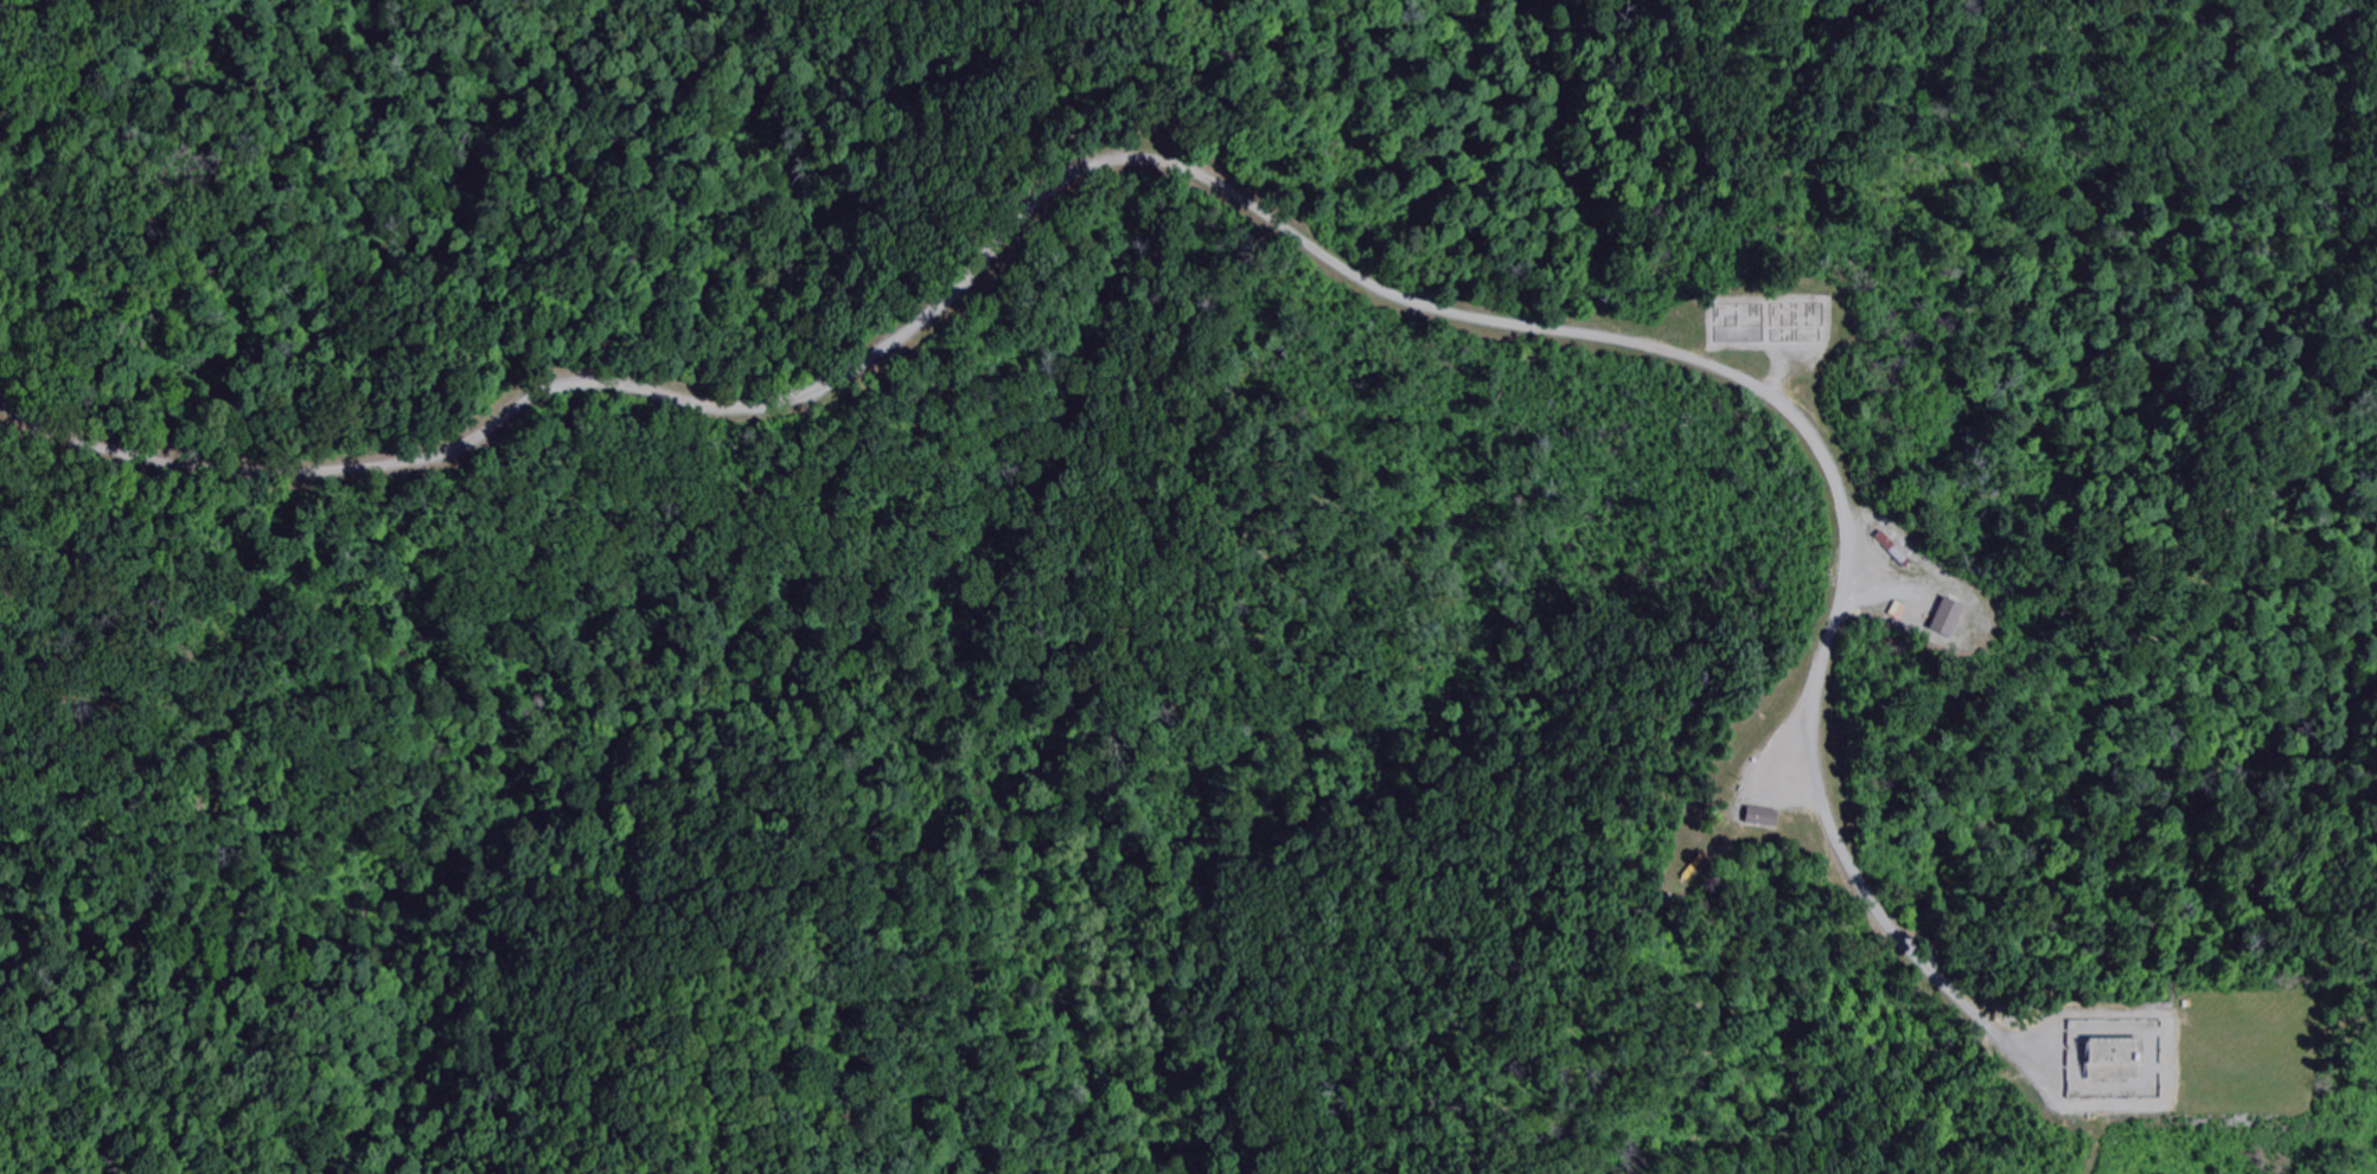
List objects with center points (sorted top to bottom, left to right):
road: (1226, 190)
building: (1947, 615)
building: (1762, 815)

